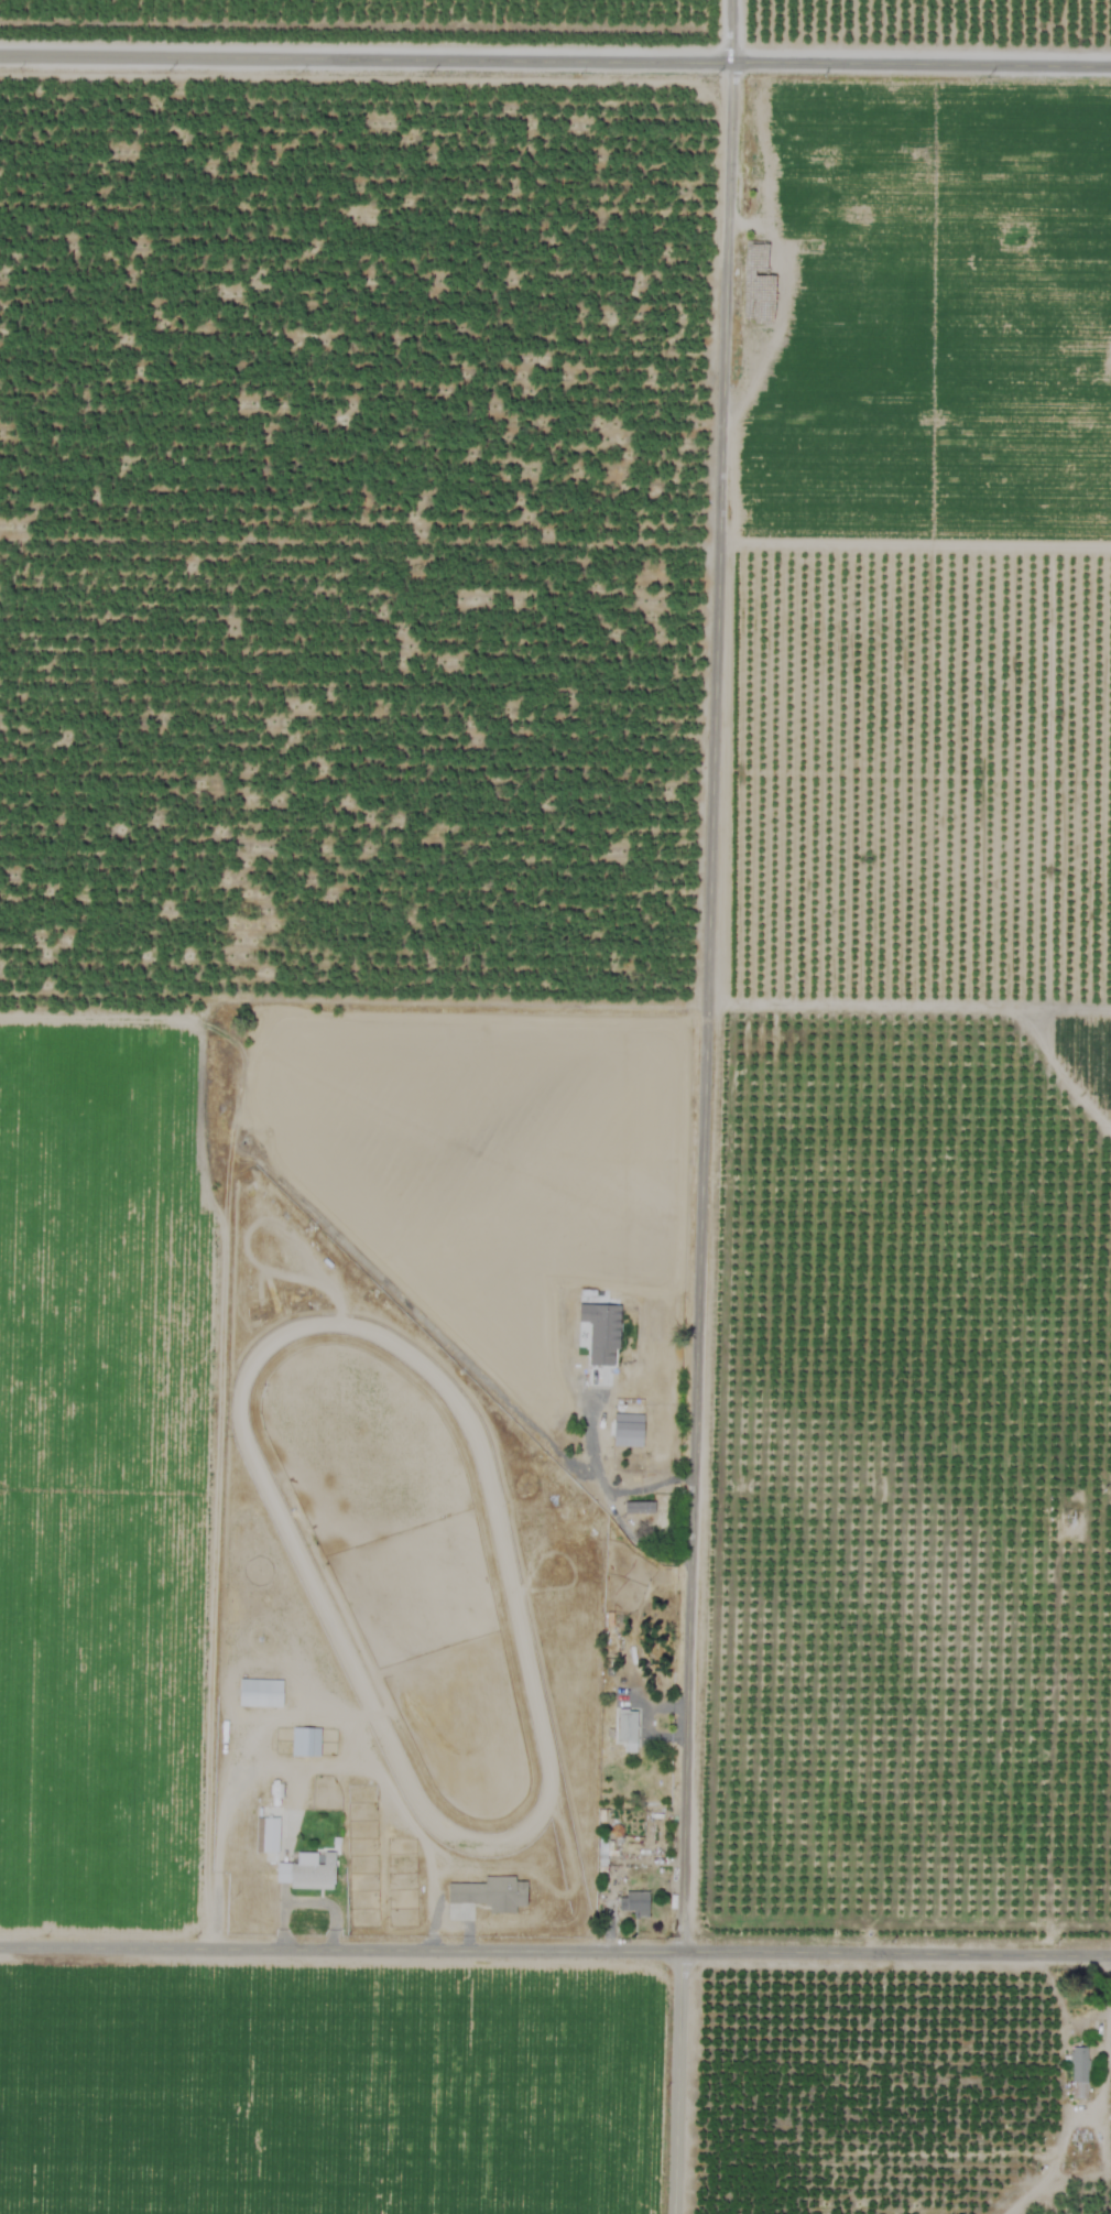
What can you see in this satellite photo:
road: (555, 57)
crop: (911, 1083)
road: (702, 1107)
building: (600, 1332)
building: (627, 1430)
road: (604, 1484)
building: (638, 1507)
building: (259, 1692)
building: (627, 1728)
building: (304, 1741)
building: (265, 1834)
building: (306, 1871)
building: (490, 1893)
building: (633, 1902)
road: (555, 1952)
road: (1107, 2047)
building: (1078, 2072)

